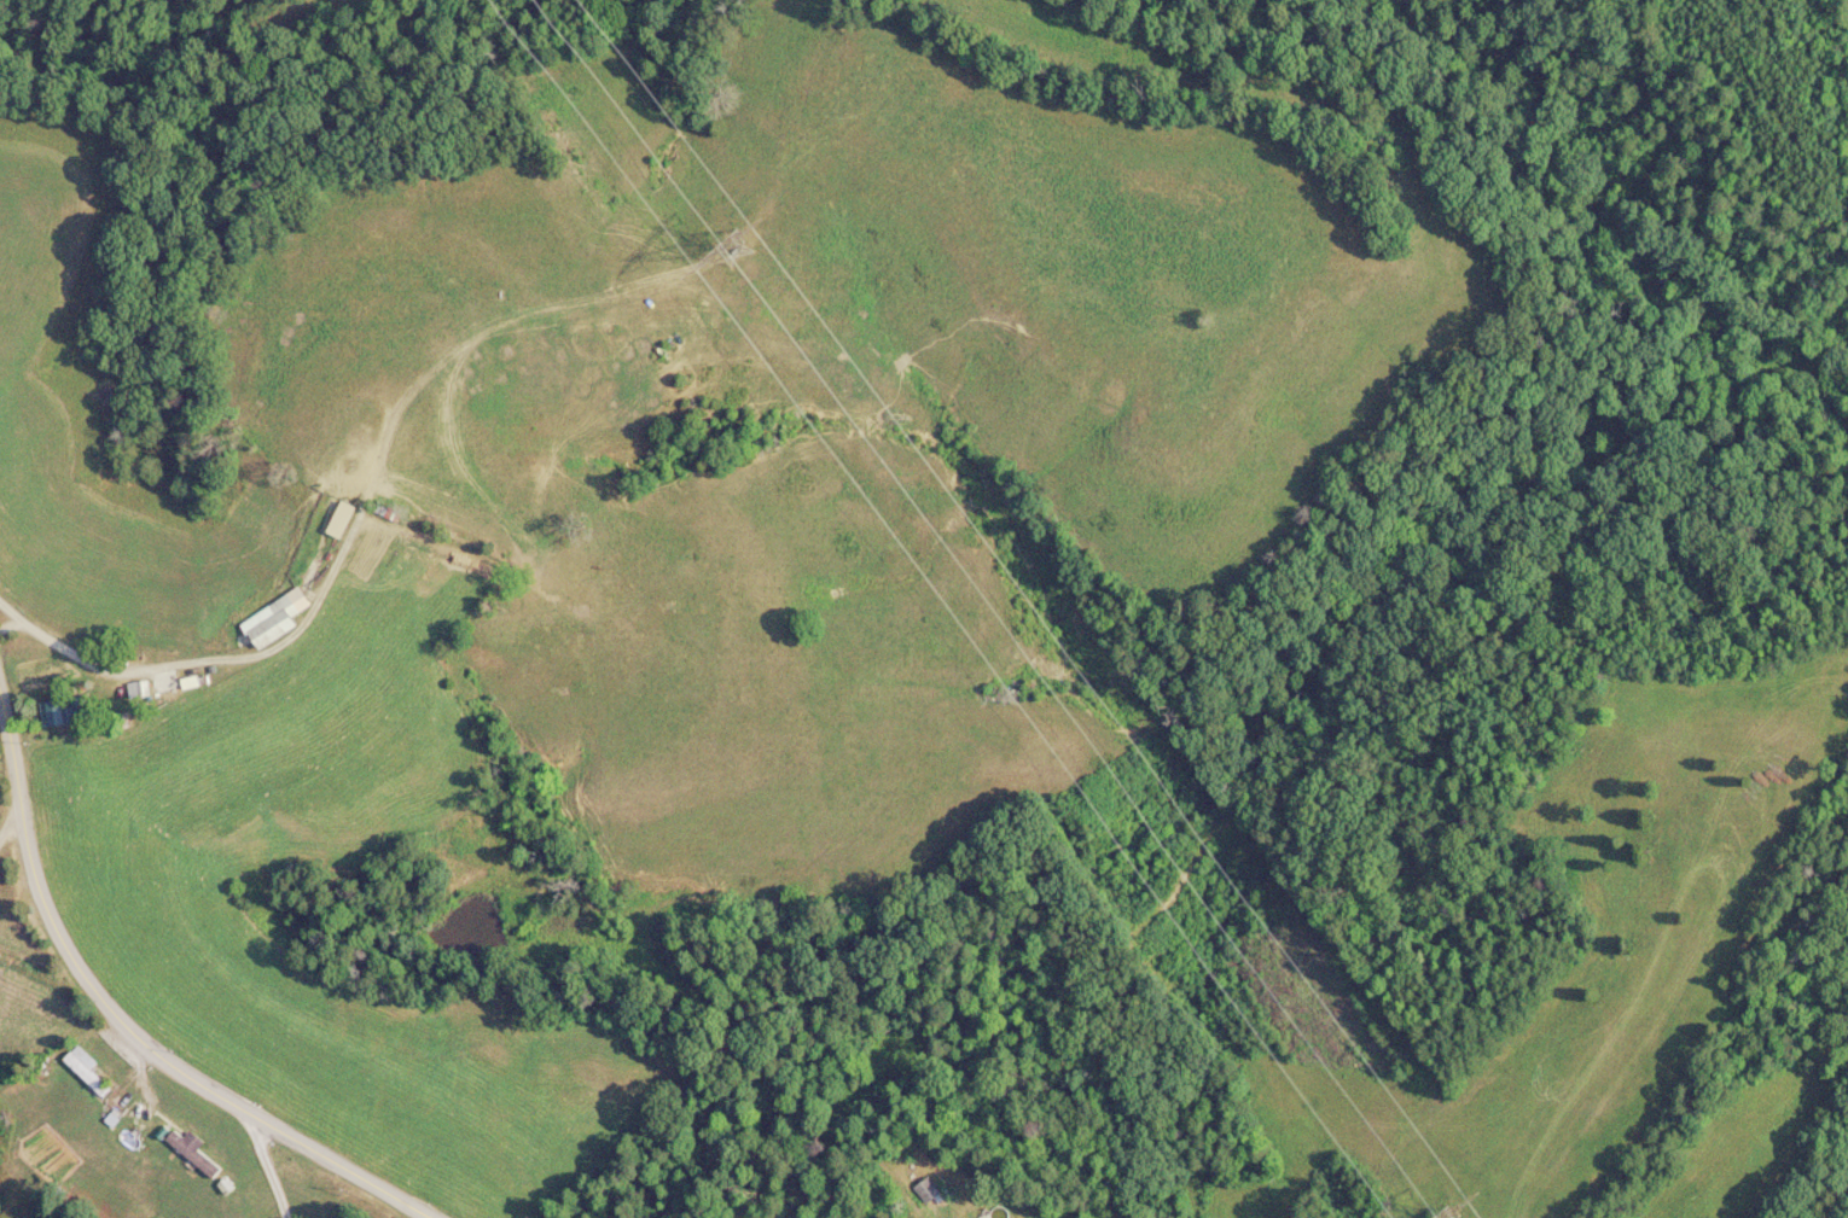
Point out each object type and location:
power tower: (736, 252)
building: (338, 519)
building: (273, 618)
building: (64, 711)
road: (101, 998)
building: (85, 1070)
building: (191, 1152)
road: (266, 1169)

